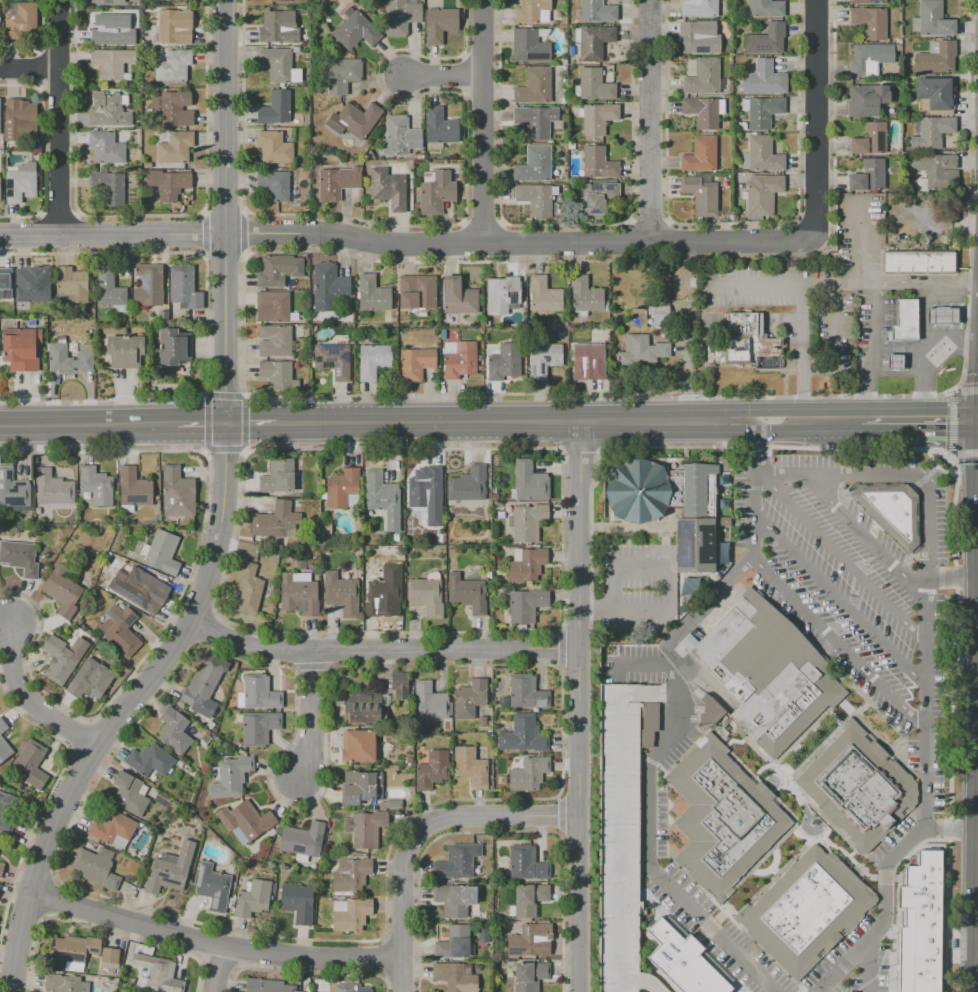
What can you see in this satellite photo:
building: (185, 0)
building: (279, 0)
building: (105, 2)
building: (867, 2)
building: (699, 8)
building: (766, 9)
building: (530, 11)
building: (597, 11)
building: (400, 16)
building: (20, 20)
building: (931, 20)
building: (869, 22)
building: (439, 25)
building: (175, 26)
building: (276, 26)
building: (354, 30)
building: (109, 31)
building: (698, 37)
building: (766, 40)
building: (594, 41)
building: (529, 46)
building: (869, 57)
building: (936, 57)
building: (111, 63)
building: (277, 64)
building: (173, 66)
road: (31, 71)
building: (342, 74)
building: (704, 78)
building: (763, 78)
road: (445, 79)
building: (595, 85)
building: (534, 87)
building: (933, 92)
building: (865, 100)
building: (274, 108)
building: (108, 110)
building: (171, 111)
building: (763, 111)
building: (701, 112)
building: (21, 116)
road: (63, 116)
building: (598, 117)
building: (358, 119)
building: (535, 120)
road: (815, 120)
road: (483, 121)
road: (654, 121)
building: (439, 126)
building: (932, 132)
building: (398, 137)
building: (870, 139)
building: (105, 147)
building: (175, 147)
building: (273, 147)
building: (763, 154)
building: (700, 155)
building: (598, 163)
building: (534, 164)
building: (935, 171)
building: (867, 176)
building: (20, 182)
building: (337, 182)
building: (168, 183)
building: (274, 184)
building: (110, 186)
building: (388, 187)
building: (435, 191)
building: (701, 193)
building: (762, 194)
building: (535, 199)
building: (597, 199)
road: (228, 213)
road: (407, 243)
building: (919, 262)
building: (274, 270)
building: (70, 284)
building: (148, 285)
road: (842, 285)
building: (183, 286)
building: (329, 286)
building: (5, 287)
building: (29, 288)
building: (108, 289)
building: (417, 292)
building: (372, 293)
building: (457, 295)
building: (501, 295)
building: (543, 295)
building: (585, 295)
building: (272, 306)
building: (940, 316)
building: (663, 317)
building: (903, 321)
road: (920, 325)
building: (275, 341)
road: (971, 342)
building: (744, 343)
building: (172, 347)
building: (24, 350)
building: (122, 351)
building: (644, 352)
road: (870, 352)
building: (457, 354)
road: (802, 355)
building: (70, 360)
building: (334, 360)
building: (373, 360)
building: (593, 360)
building: (546, 361)
building: (415, 363)
building: (506, 363)
building: (893, 363)
road: (928, 370)
building: (278, 375)
road: (965, 390)
road: (951, 391)
road: (806, 420)
road: (919, 420)
road: (514, 422)
road: (951, 423)
road: (251, 425)
road: (88, 426)
road: (201, 426)
traffic signals: (226, 426)
road: (754, 448)
road: (964, 453)
road: (949, 456)
road: (937, 466)
road: (887, 475)
building: (277, 476)
road: (924, 476)
building: (532, 483)
building: (99, 486)
building: (132, 486)
building: (424, 486)
building: (342, 487)
building: (56, 489)
building: (467, 489)
building: (14, 490)
building: (637, 491)
building: (177, 492)
building: (381, 497)
road: (953, 498)
building: (890, 510)
building: (275, 519)
building: (697, 522)
building: (529, 523)
road: (858, 534)
building: (162, 552)
road: (839, 557)
building: (22, 558)
building: (529, 566)
road: (952, 576)
road: (956, 576)
road: (667, 585)
parking lot: (632, 588)
building: (248, 589)
building: (143, 591)
building: (65, 592)
building: (380, 592)
building: (467, 593)
building: (342, 594)
building: (298, 595)
building: (426, 596)
road: (841, 603)
building: (528, 606)
building: (122, 629)
road: (975, 634)
building: (687, 641)
road: (841, 644)
road: (379, 648)
building: (57, 659)
road: (631, 662)
building: (768, 673)
building: (398, 678)
building: (89, 681)
building: (202, 689)
building: (258, 692)
road: (657, 692)
building: (529, 693)
building: (469, 698)
road: (32, 702)
building: (430, 702)
road: (950, 702)
road: (576, 707)
building: (361, 708)
road: (125, 709)
road: (298, 715)
building: (484, 722)
building: (257, 726)
building: (173, 731)
building: (525, 737)
road: (667, 740)
building: (5, 744)
building: (357, 746)
building: (149, 759)
building: (32, 765)
building: (470, 766)
building: (431, 769)
building: (531, 775)
building: (230, 777)
building: (360, 787)
building: (861, 788)
building: (129, 794)
building: (393, 804)
road: (926, 806)
building: (3, 814)
building: (723, 818)
building: (251, 820)
building: (113, 828)
building: (365, 828)
road: (949, 828)
road: (949, 828)
road: (416, 832)
road: (619, 833)
building: (617, 836)
parking garage: (617, 836)
building: (302, 839)
building: (1, 844)
building: (458, 861)
building: (529, 865)
building: (95, 867)
building: (169, 870)
building: (2, 871)
building: (350, 873)
building: (212, 887)
building: (1, 889)
building: (253, 898)
building: (454, 899)
building: (531, 900)
road: (971, 900)
building: (297, 902)
building: (807, 910)
building: (350, 914)
road: (947, 915)
building: (922, 927)
building: (485, 937)
building: (531, 940)
road: (211, 942)
building: (454, 942)
building: (73, 951)
building: (109, 955)
building: (680, 962)
road: (868, 965)
road: (220, 969)
road: (953, 971)
building: (158, 974)
building: (455, 976)
building: (532, 976)
road: (630, 981)
road: (654, 981)
road: (970, 982)
building: (62, 983)
building: (267, 985)
building: (347, 988)

